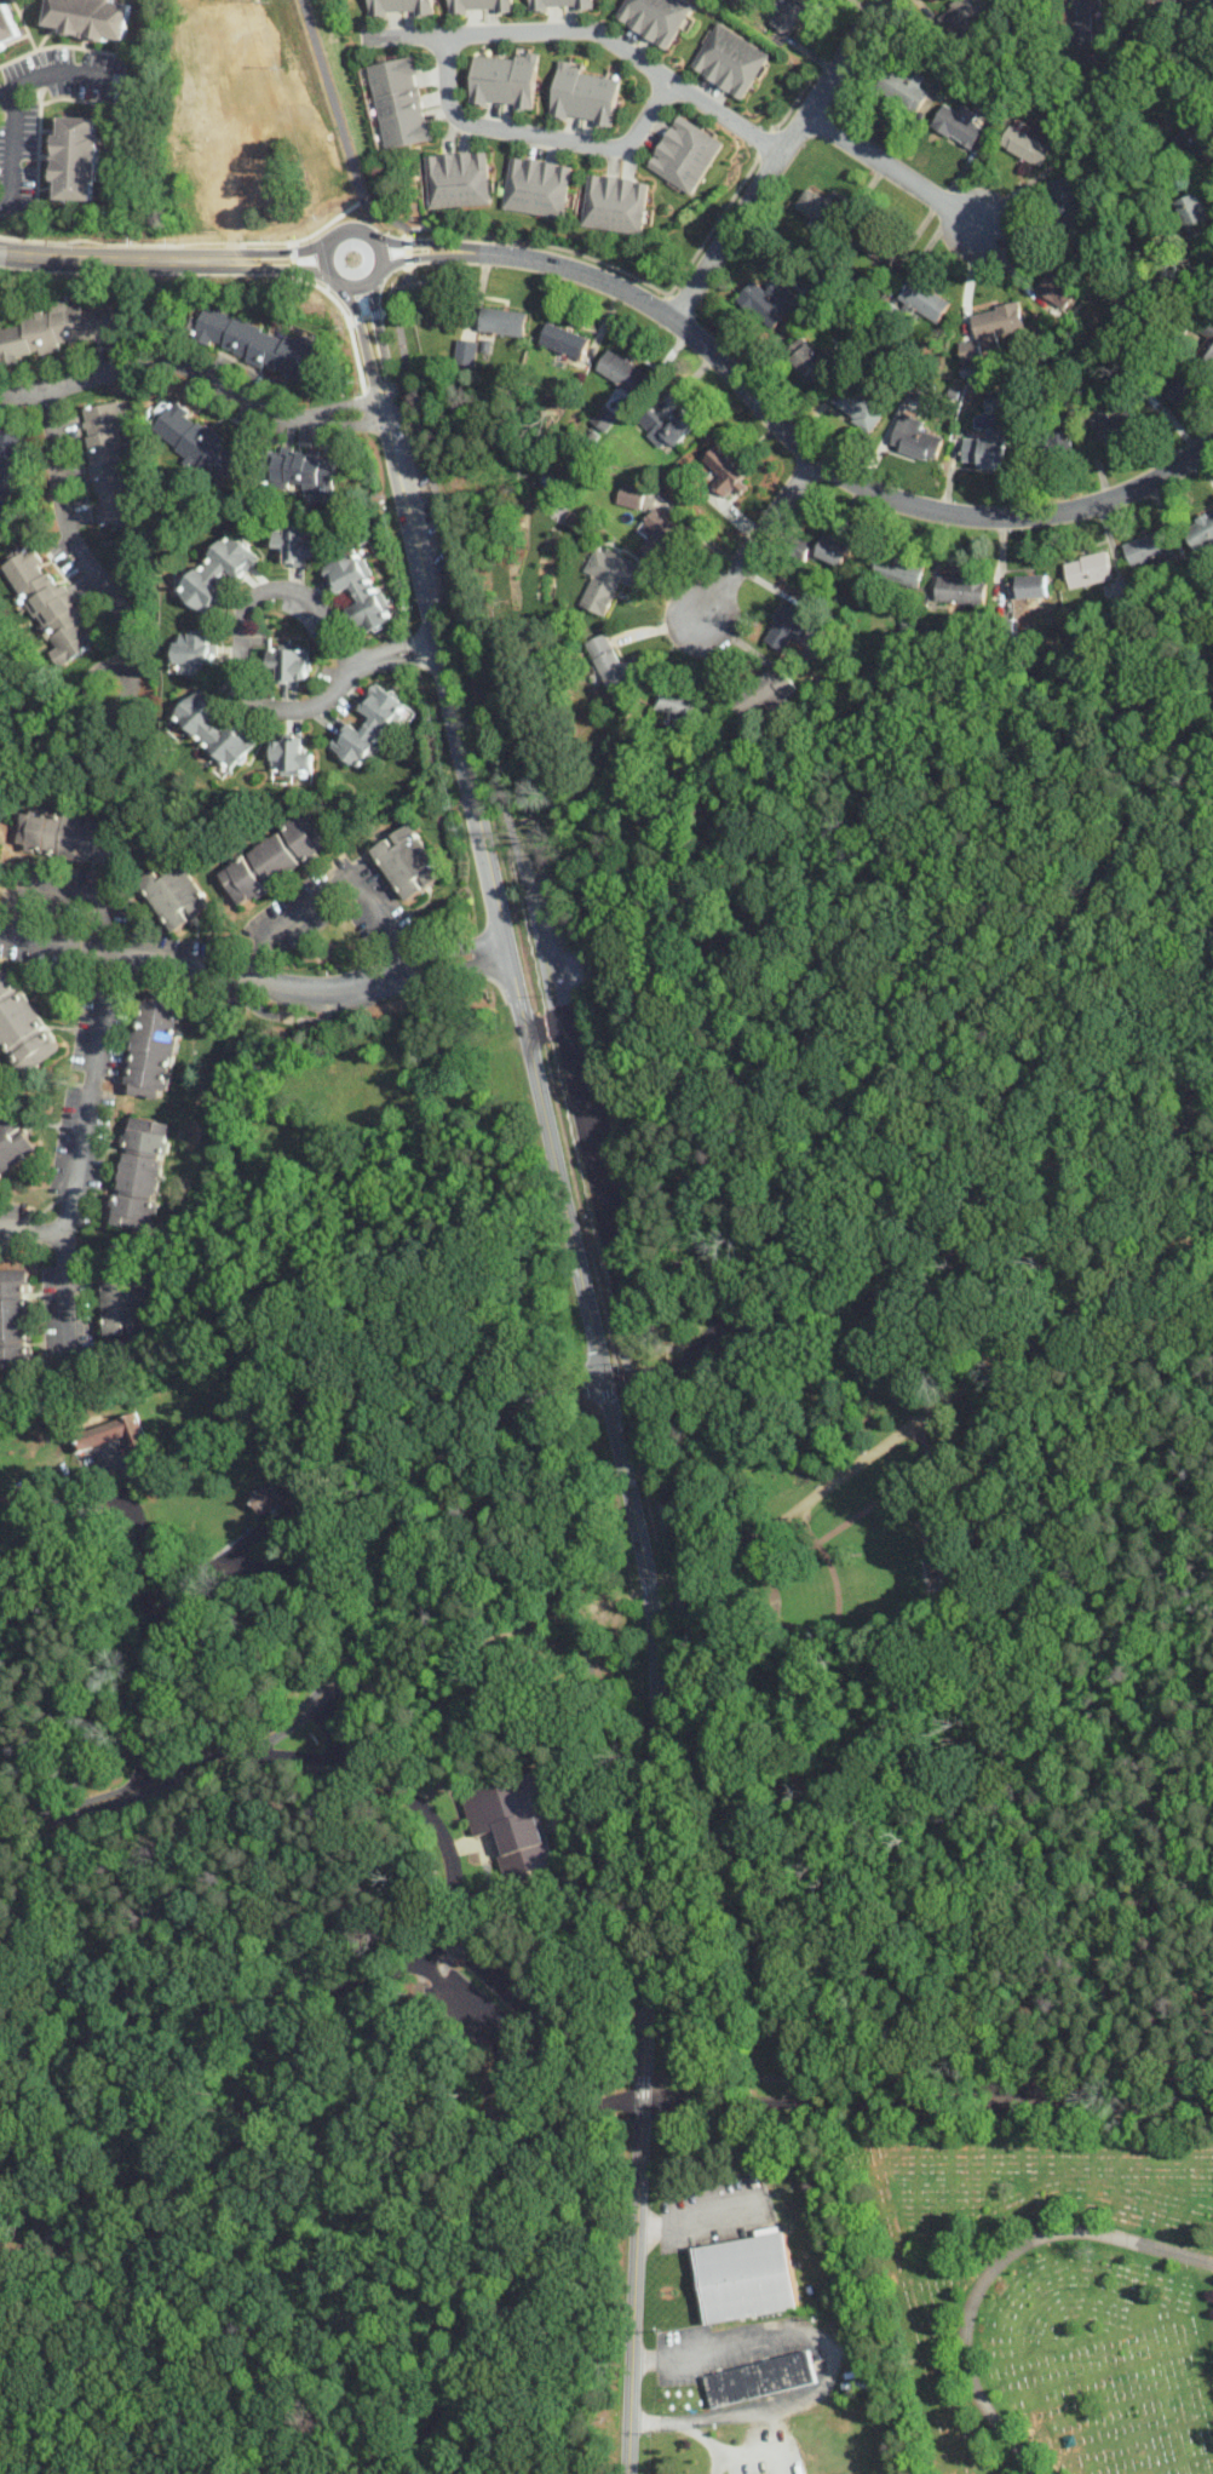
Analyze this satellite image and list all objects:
building: (1008, 0)
building: (1138, 0)
building: (1172, 4)
building: (559, 5)
building: (479, 6)
building: (401, 7)
building: (961, 15)
building: (792, 16)
building: (90, 17)
building: (656, 18)
building: (1086, 21)
building: (7, 27)
road: (591, 30)
building: (731, 59)
road: (53, 71)
building: (504, 81)
building: (904, 87)
building: (582, 96)
building: (399, 102)
building: (959, 124)
road: (534, 133)
building: (1198, 143)
building: (1027, 144)
building: (685, 153)
building: (76, 156)
road: (776, 161)
road: (890, 172)
building: (456, 178)
building: (535, 185)
building: (1067, 201)
building: (614, 202)
building: (818, 206)
building: (1194, 211)
building: (880, 245)
road: (326, 258)
road: (162, 259)
building: (1058, 279)
building: (768, 299)
building: (924, 299)
building: (502, 321)
building: (62, 328)
building: (990, 329)
building: (564, 339)
building: (251, 340)
building: (1206, 343)
building: (466, 350)
building: (809, 357)
building: (623, 371)
road: (197, 378)
building: (1183, 386)
building: (998, 400)
building: (857, 407)
building: (604, 418)
building: (666, 425)
building: (1109, 426)
building: (914, 437)
road: (787, 438)
building: (197, 442)
building: (1056, 443)
building: (987, 448)
building: (108, 463)
building: (725, 469)
building: (303, 470)
building: (8, 471)
road: (433, 490)
building: (631, 495)
building: (659, 530)
building: (1200, 532)
road: (754, 541)
road: (71, 543)
building: (295, 543)
building: (1150, 547)
building: (828, 549)
building: (1088, 568)
building: (898, 570)
building: (218, 572)
building: (610, 579)
building: (1030, 585)
building: (358, 587)
building: (961, 589)
building: (48, 603)
road: (248, 603)
building: (792, 627)
building: (192, 651)
building: (613, 662)
building: (289, 664)
building: (765, 690)
building: (677, 704)
building: (369, 724)
building: (214, 729)
building: (291, 757)
building: (71, 834)
building: (0, 845)
building: (275, 857)
building: (408, 861)
road: (67, 886)
road: (333, 889)
building: (174, 892)
road: (54, 949)
road: (143, 966)
building: (22, 1026)
road: (539, 1028)
building: (154, 1044)
road: (907, 1056)
building: (263, 1077)
building: (399, 1103)
building: (13, 1142)
building: (270, 1155)
building: (139, 1173)
parking lot: (600, 1181)
road: (592, 1183)
road: (958, 1184)
road: (64, 1288)
building: (127, 1304)
building: (16, 1320)
parking lot: (724, 1338)
road: (662, 1348)
building: (695, 1348)
road: (598, 1359)
parking lot: (699, 1360)
road: (627, 1364)
road: (630, 1376)
road: (613, 1390)
road: (792, 1399)
road: (915, 1427)
building: (98, 1433)
road: (651, 1477)
building: (29, 1481)
building: (6, 1497)
building: (274, 1498)
road: (422, 1503)
road: (788, 1511)
road: (795, 1512)
road: (853, 1515)
road: (915, 1521)
road: (811, 1534)
road: (200, 1574)
road: (674, 1580)
road: (835, 1584)
road: (933, 1619)
road: (139, 1620)
road: (780, 1621)
park: (648, 1630)
road: (883, 1640)
road: (870, 1663)
road: (1145, 1686)
road: (391, 1727)
building: (321, 1739)
road: (586, 1745)
road: (293, 1757)
road: (165, 1781)
road: (1093, 1790)
road: (427, 1815)
building: (510, 1825)
road: (502, 1902)
building: (422, 1973)
parking lot: (500, 2010)
road: (781, 2042)
road: (546, 2050)
building: (496, 2057)
road: (929, 2065)
road: (1023, 2072)
road: (90, 2096)
road: (678, 2103)
road: (28, 2137)
road: (306, 2145)
park: (722, 2149)
road: (212, 2185)
park: (17, 2186)
road: (700, 2217)
road: (22, 2260)
road: (995, 2269)
building: (747, 2275)
road: (387, 2288)
park: (1036, 2295)
road: (823, 2342)
building: (759, 2378)
road: (689, 2427)
road: (626, 2463)
road: (293, 2467)

